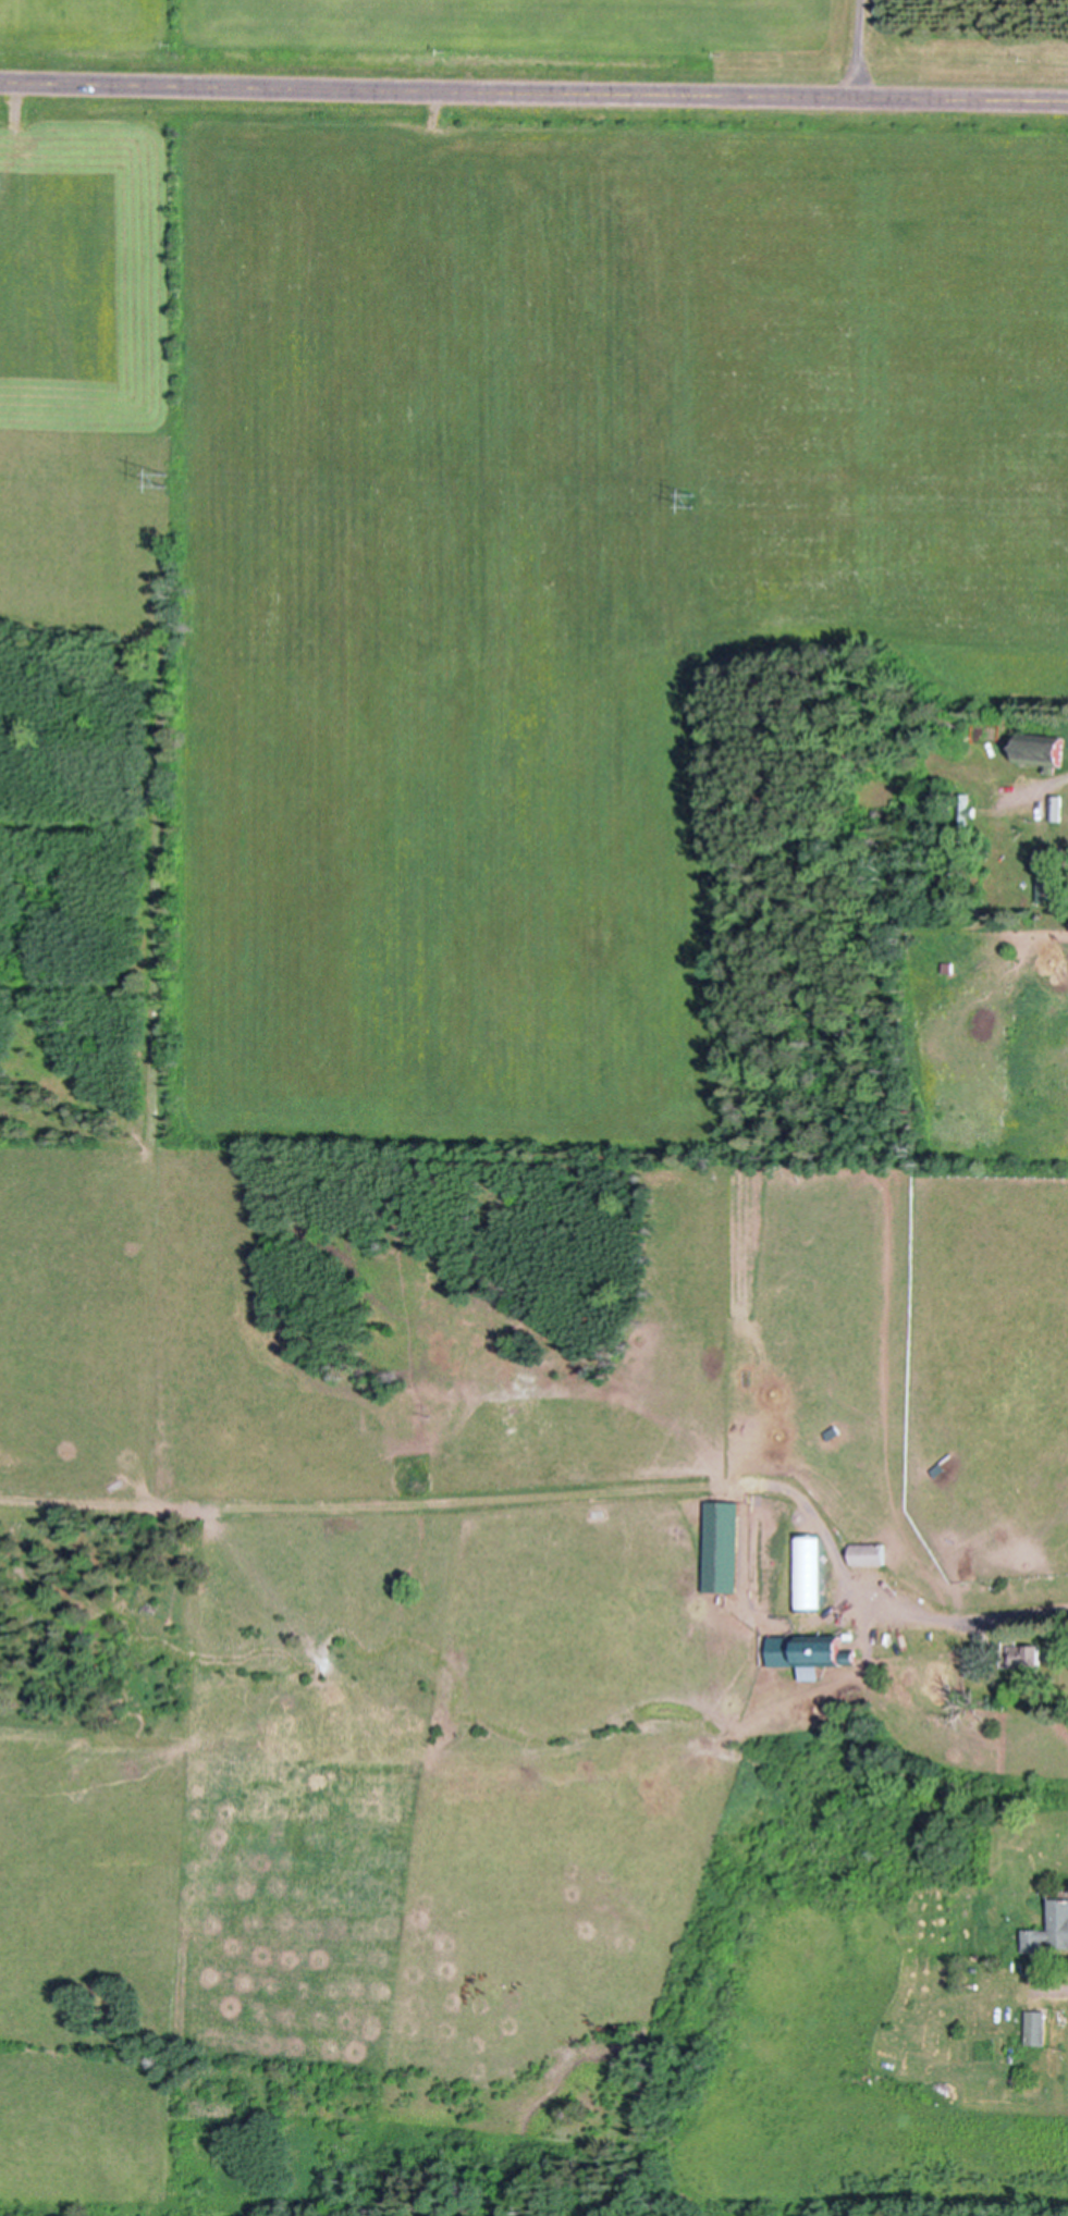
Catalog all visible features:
road: (859, 49)
road: (533, 95)
power tower: (172, 480)
power tower: (708, 501)
building: (956, 725)
building: (1042, 751)
road: (1045, 790)
building: (1057, 808)
building: (966, 814)
building: (1053, 889)
building: (950, 934)
building: (833, 1431)
building: (937, 1467)
building: (868, 1551)
road: (975, 1622)
building: (808, 1647)
building: (1026, 1651)
building: (1051, 1925)
road: (1055, 1990)
building: (1036, 2024)

